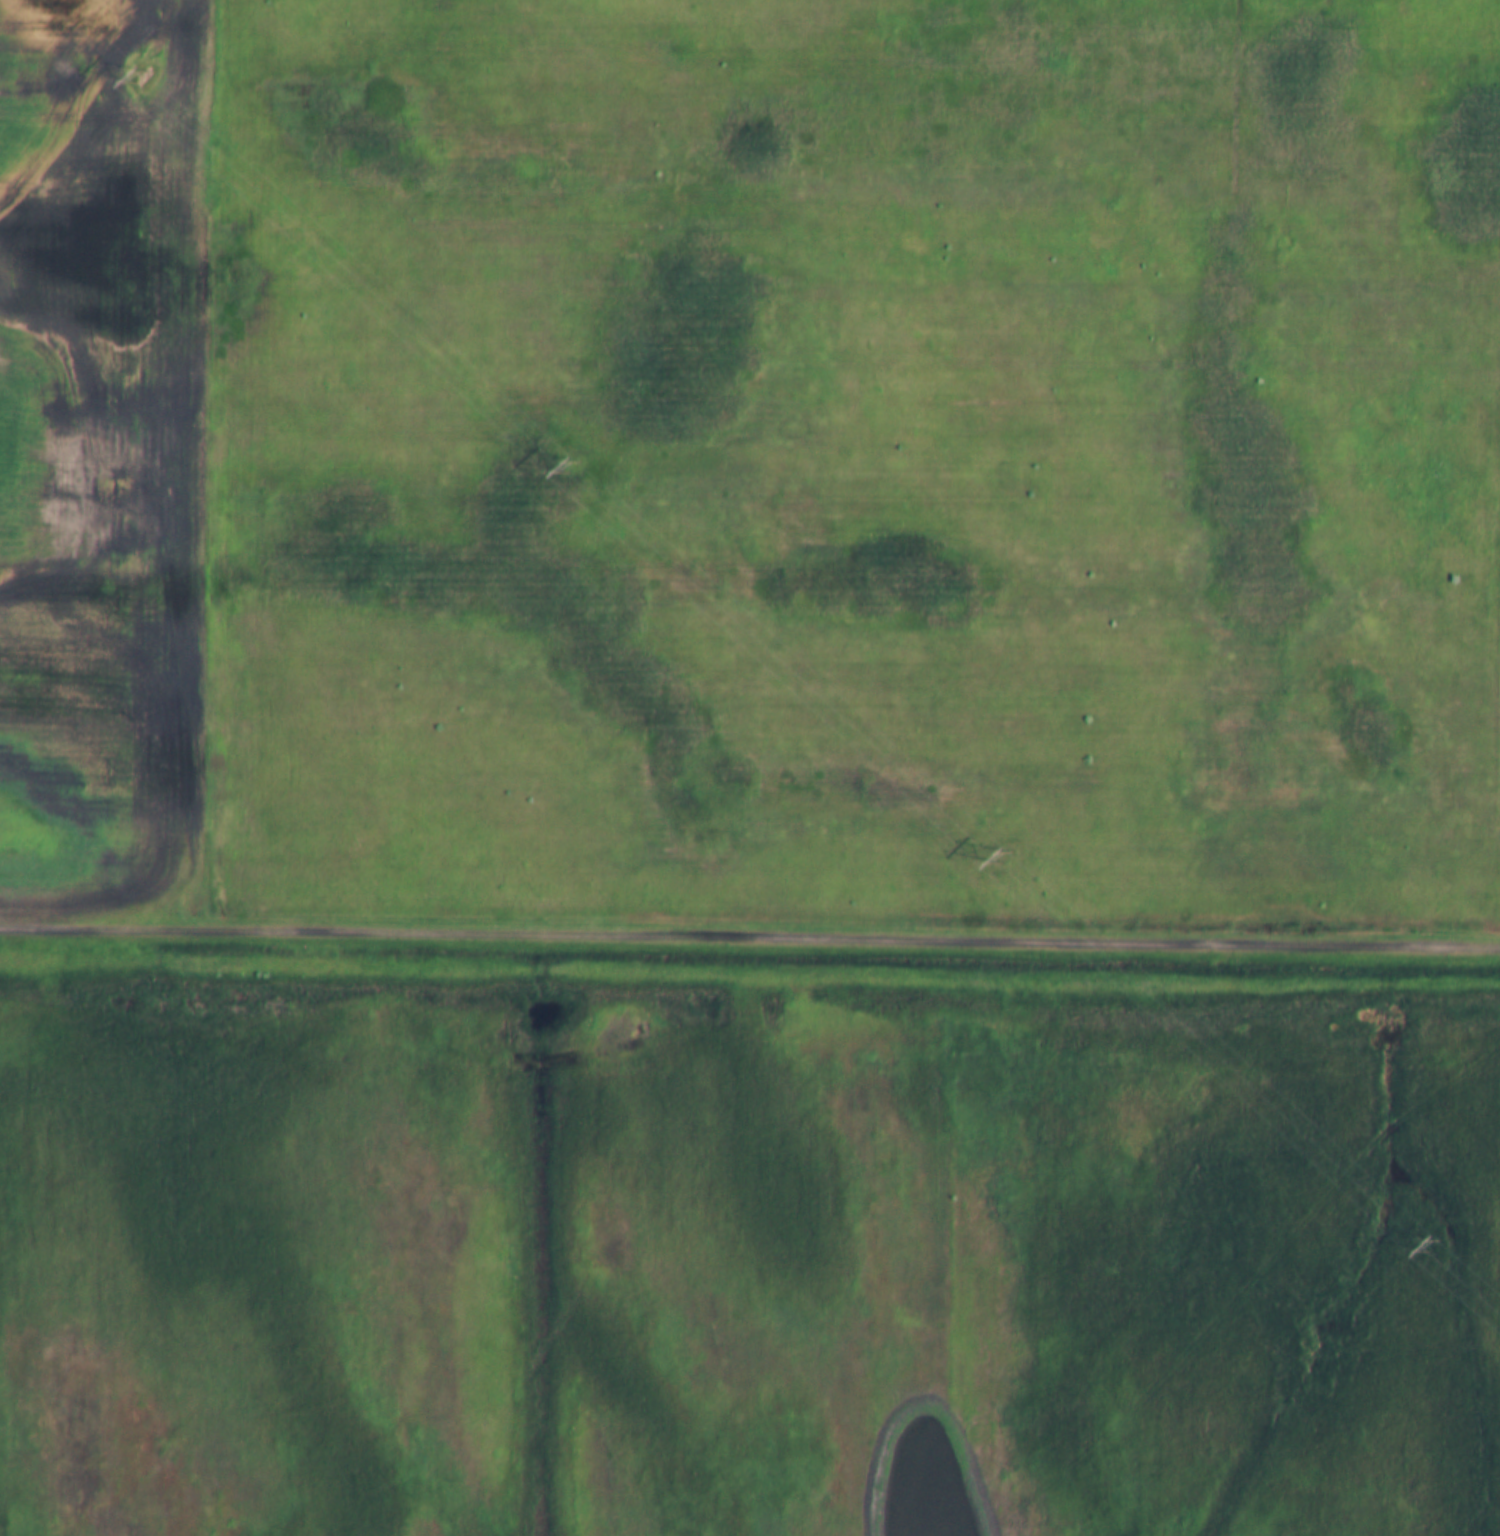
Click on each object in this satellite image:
power tower: (143, 76)
power tower: (575, 468)
power tower: (1005, 856)
road: (750, 940)
power tower: (1434, 1245)

